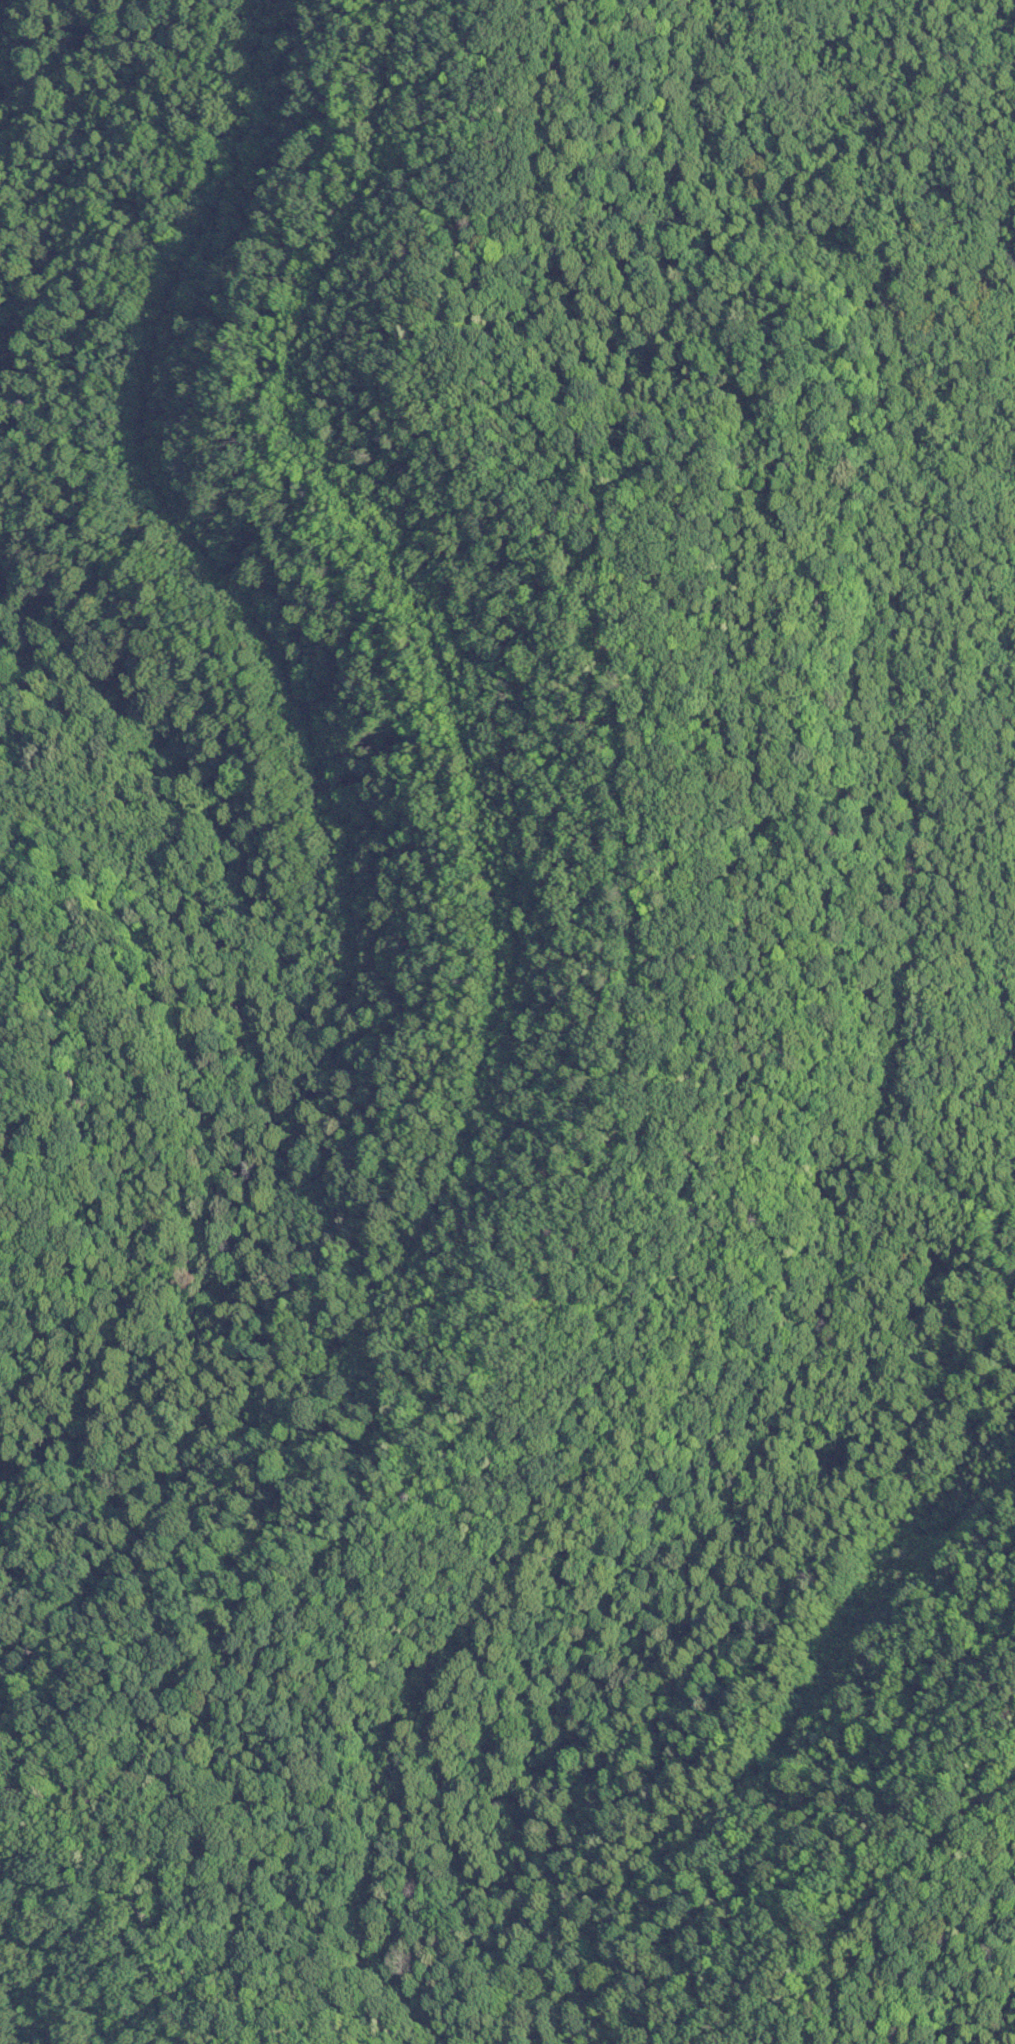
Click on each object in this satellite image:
road: (906, 1882)
road: (118, 1917)

